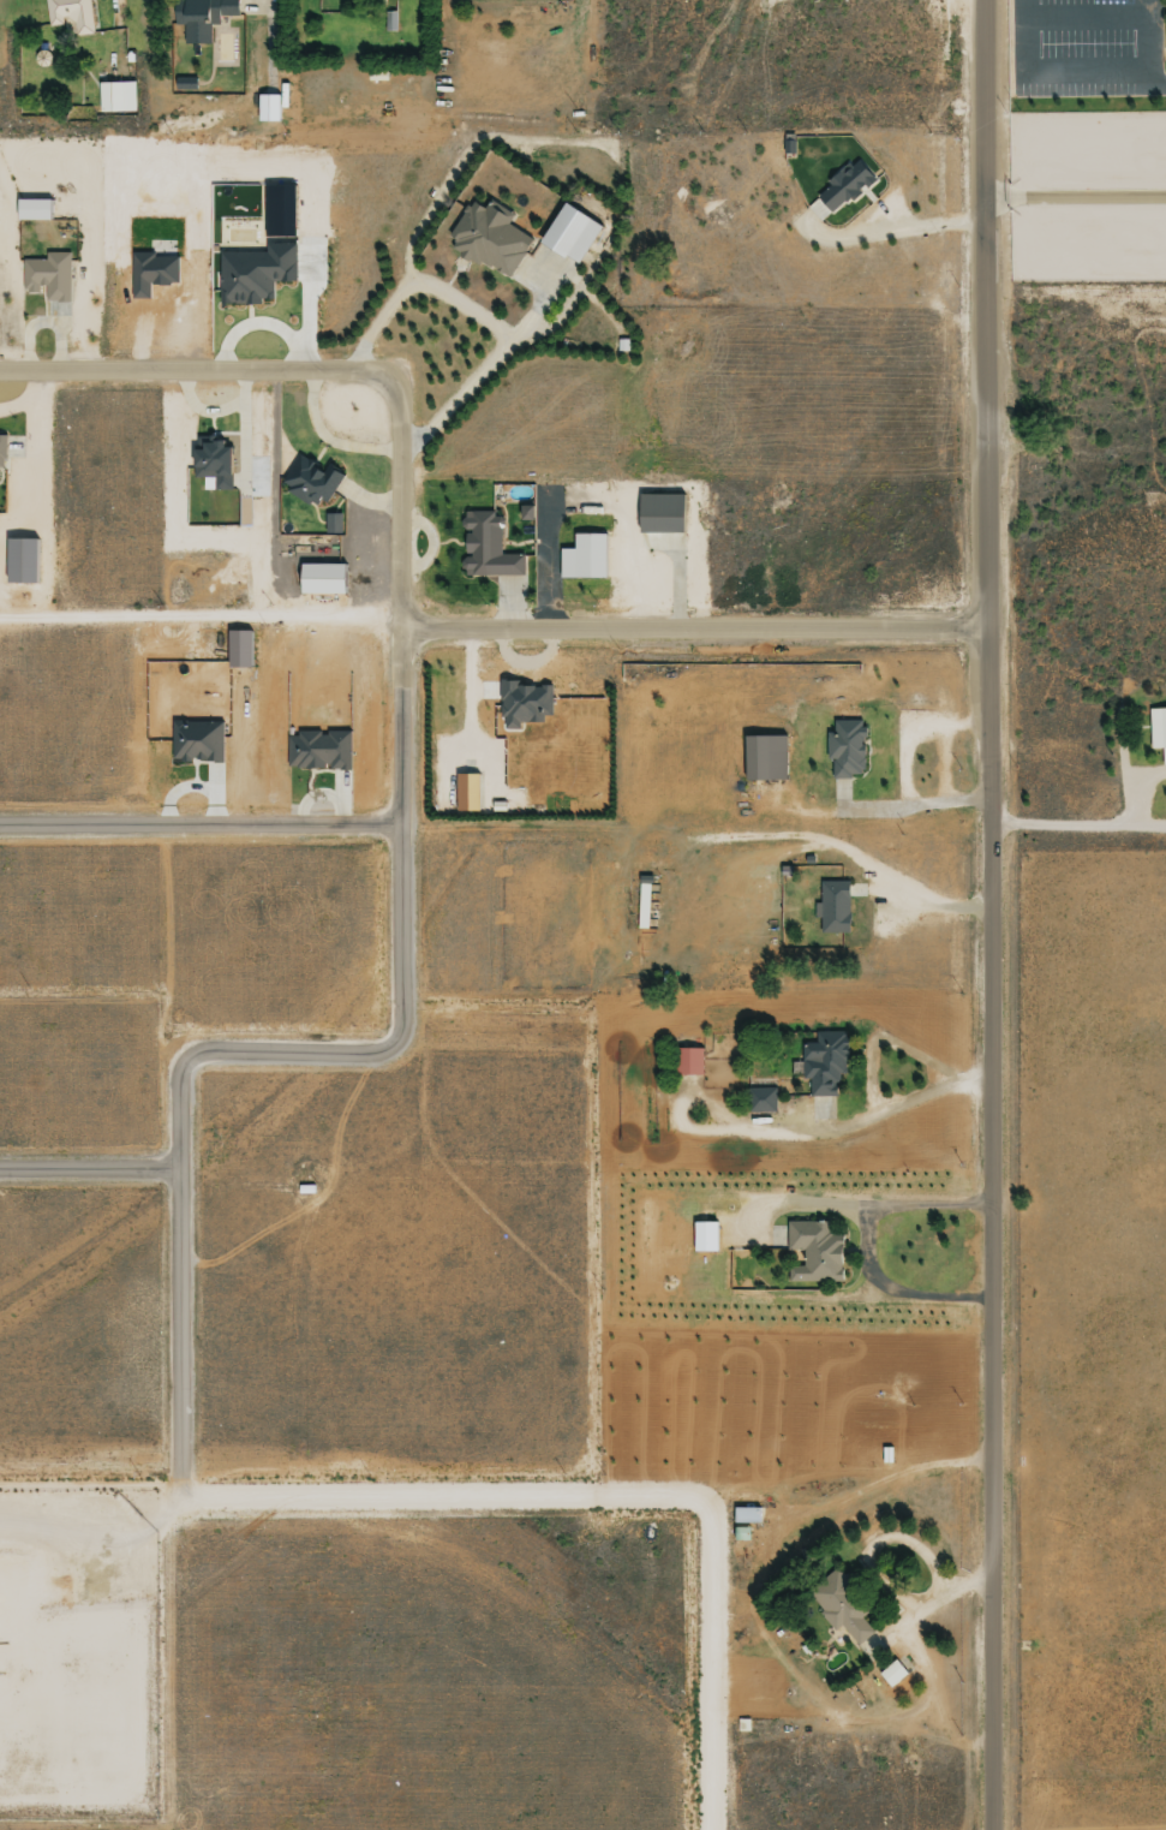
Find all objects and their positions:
parking lot: (883, 6)
road: (1148, 11)
road: (883, 12)
building: (73, 16)
road: (113, 16)
road: (221, 18)
building: (202, 19)
road: (699, 19)
road: (1118, 22)
road: (1040, 24)
road: (74, 28)
road: (92, 38)
road: (1164, 40)
road: (70, 42)
road: (38, 44)
road: (1102, 48)
parking lot: (1086, 49)
building: (43, 60)
road: (77, 61)
road: (676, 72)
road: (1040, 73)
road: (259, 76)
road: (1063, 76)
road: (102, 85)
building: (184, 85)
road: (1165, 88)
road: (1087, 97)
building: (116, 100)
road: (450, 109)
building: (265, 111)
road: (791, 125)
road: (1009, 142)
road: (1101, 147)
road: (468, 153)
building: (841, 187)
road: (1074, 197)
road: (861, 198)
park: (1087, 199)
road: (1040, 201)
road: (41, 208)
building: (34, 209)
road: (862, 209)
building: (279, 211)
road: (981, 220)
building: (569, 237)
building: (488, 239)
road: (1104, 254)
road: (521, 270)
building: (253, 273)
building: (48, 279)
road: (1088, 284)
road: (84, 291)
road: (29, 294)
road: (41, 304)
road: (981, 316)
road: (602, 318)
road: (40, 321)
building: (622, 348)
road: (1142, 401)
road: (210, 415)
road: (274, 430)
road: (222, 437)
road: (401, 448)
building: (2, 453)
road: (316, 457)
building: (215, 465)
road: (271, 477)
road: (1, 479)
road: (524, 482)
building: (311, 484)
road: (677, 491)
road: (600, 496)
road: (507, 501)
road: (401, 505)
road: (592, 505)
road: (173, 506)
road: (252, 508)
road: (343, 511)
building: (524, 513)
building: (660, 515)
road: (322, 521)
road: (46, 525)
building: (333, 526)
road: (660, 535)
road: (420, 541)
road: (18, 542)
road: (443, 544)
road: (516, 548)
road: (426, 549)
building: (486, 549)
road: (684, 552)
road: (301, 556)
road: (346, 556)
building: (582, 560)
road: (357, 562)
road: (2, 564)
building: (20, 564)
road: (301, 567)
road: (531, 568)
road: (522, 578)
road: (285, 582)
building: (323, 582)
road: (1, 585)
road: (401, 592)
road: (675, 594)
road: (378, 604)
road: (433, 606)
road: (573, 612)
road: (628, 618)
road: (199, 622)
road: (563, 630)
building: (239, 649)
building: (524, 704)
road: (464, 705)
building: (1159, 731)
road: (904, 733)
building: (197, 741)
building: (847, 747)
building: (318, 750)
building: (767, 759)
road: (940, 767)
road: (1134, 783)
building: (467, 794)
road: (791, 807)
road: (897, 811)
road: (198, 821)
road: (1076, 828)
road: (639, 831)
road: (666, 864)
building: (680, 888)
road: (878, 894)
road: (713, 899)
building: (644, 906)
road: (917, 906)
building: (833, 908)
road: (490, 925)
road: (160, 944)
road: (396, 993)
road: (79, 994)
road: (489, 1020)
road: (879, 1045)
road: (588, 1048)
road: (425, 1061)
building: (688, 1063)
building: (827, 1067)
building: (761, 1099)
road: (831, 1132)
road: (86, 1163)
road: (766, 1211)
road: (987, 1230)
road: (585, 1234)
building: (706, 1240)
building: (817, 1254)
road: (886, 1282)
road: (174, 1325)
road: (669, 1340)
road: (89, 1489)
road: (446, 1489)
road: (761, 1501)
road: (80, 1506)
building: (747, 1518)
road: (97, 1533)
road: (872, 1543)
building: (746, 1551)
building: (843, 1608)
road: (921, 1608)
road: (742, 1609)
road: (714, 1659)
building: (893, 1676)
road: (73, 1679)
building: (938, 1688)
road: (919, 1691)
road: (151, 1728)

